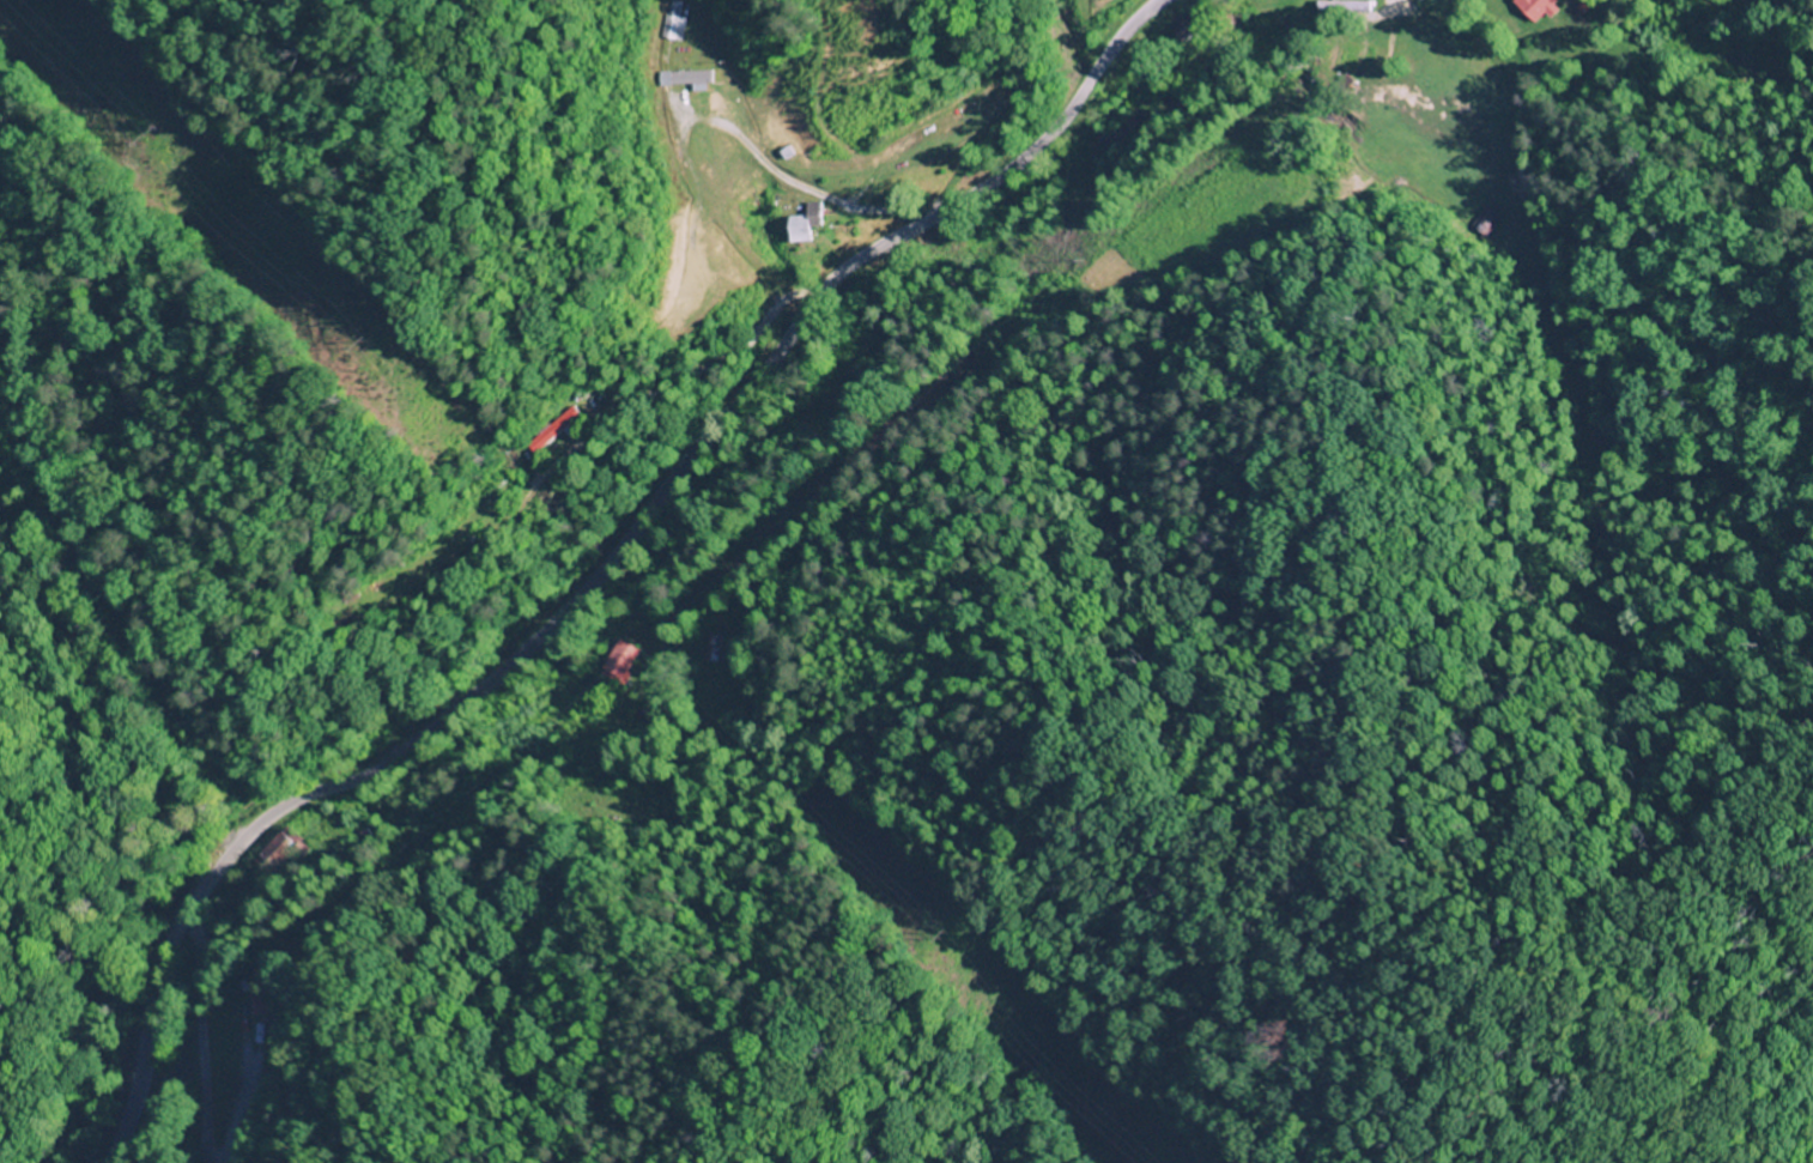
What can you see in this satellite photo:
building: (1541, 8)
building: (674, 24)
building: (696, 79)
building: (1114, 133)
building: (814, 224)
building: (563, 429)
road: (595, 569)
building: (624, 661)
building: (286, 847)
building: (261, 1005)

